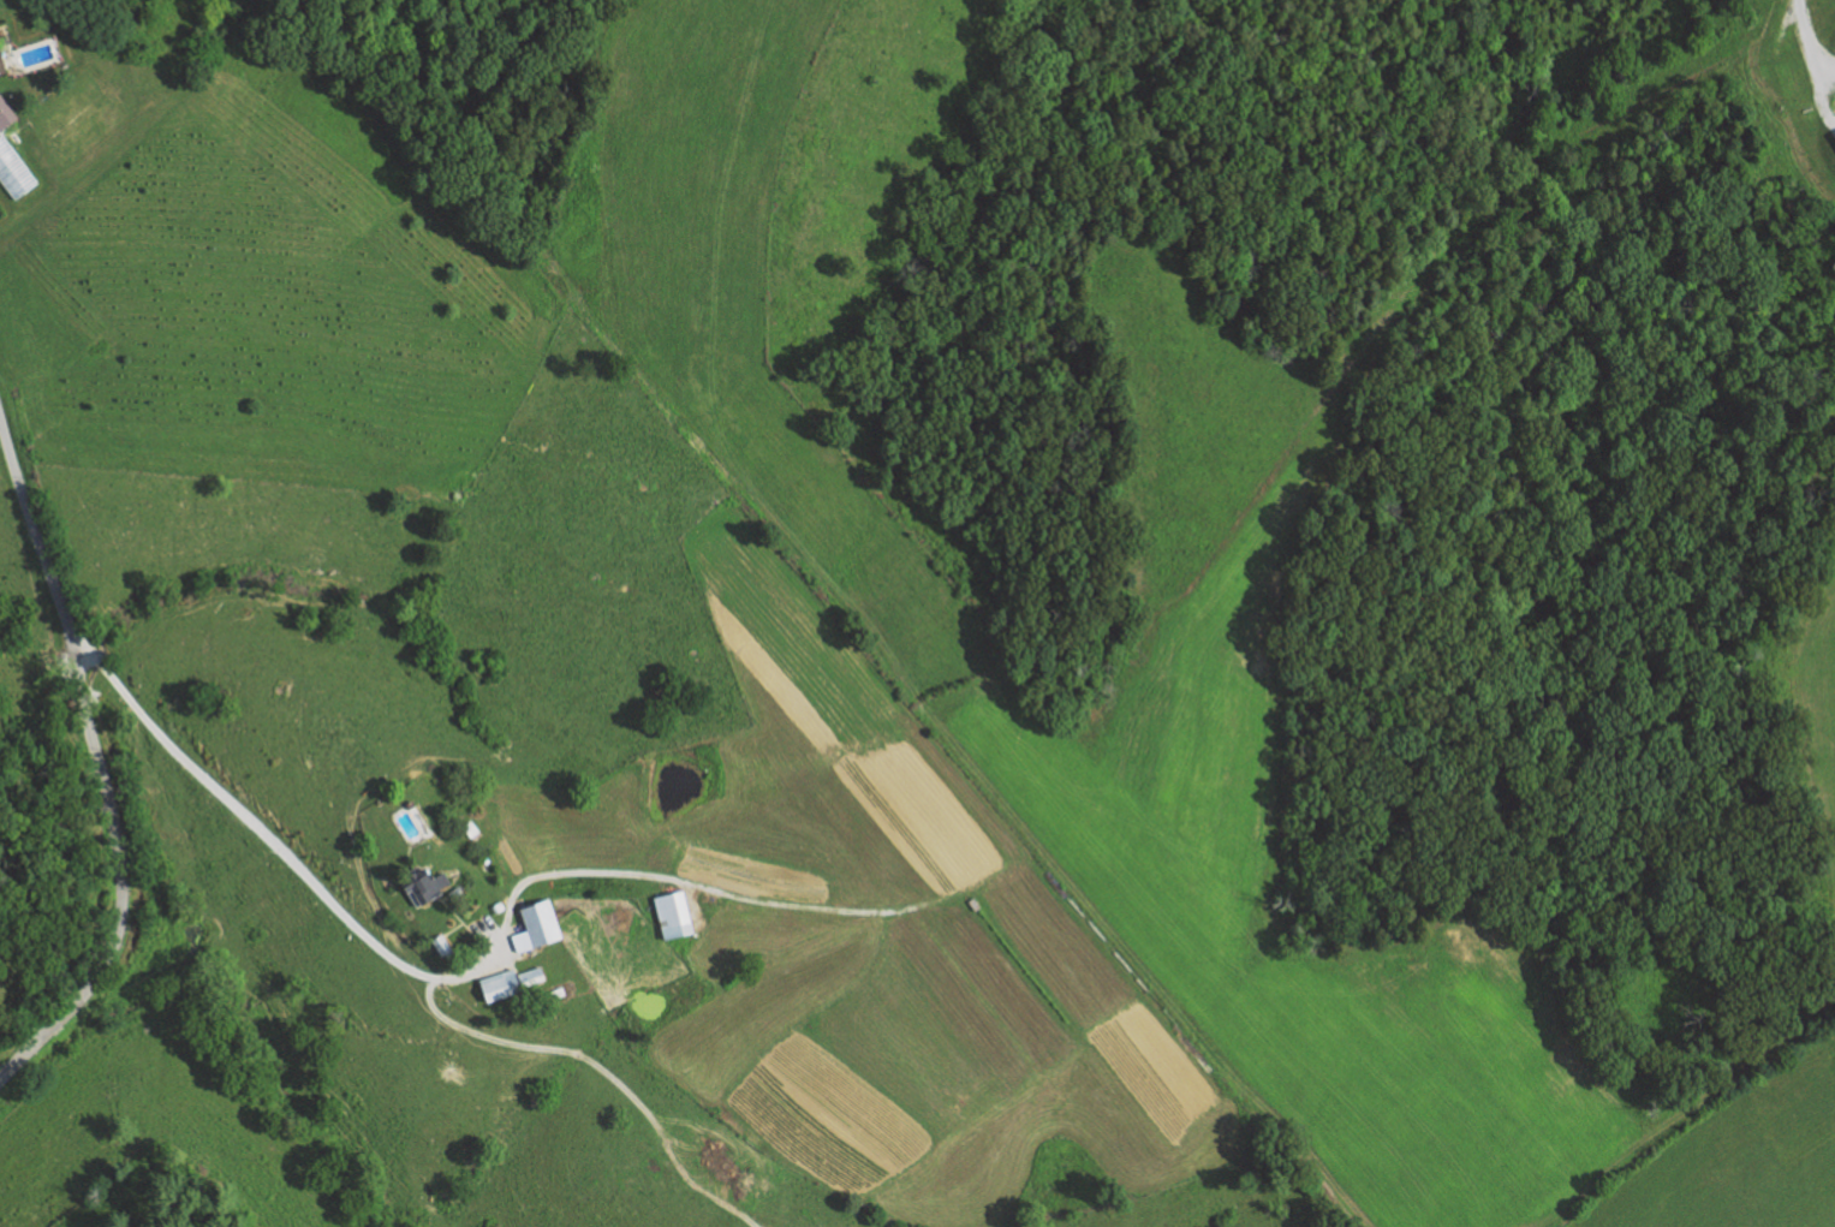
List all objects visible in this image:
road: (1815, 64)
road: (1825, 66)
building: (1, 67)
building: (5, 117)
building: (1834, 136)
building: (13, 173)
crop: (844, 709)
road: (99, 766)
building: (471, 828)
building: (427, 887)
road: (691, 895)
building: (673, 910)
building: (541, 923)
road: (498, 936)
building: (442, 947)
road: (441, 977)
building: (510, 983)
building: (556, 993)
road: (538, 1047)
crop: (1152, 1066)
crop: (802, 1132)

